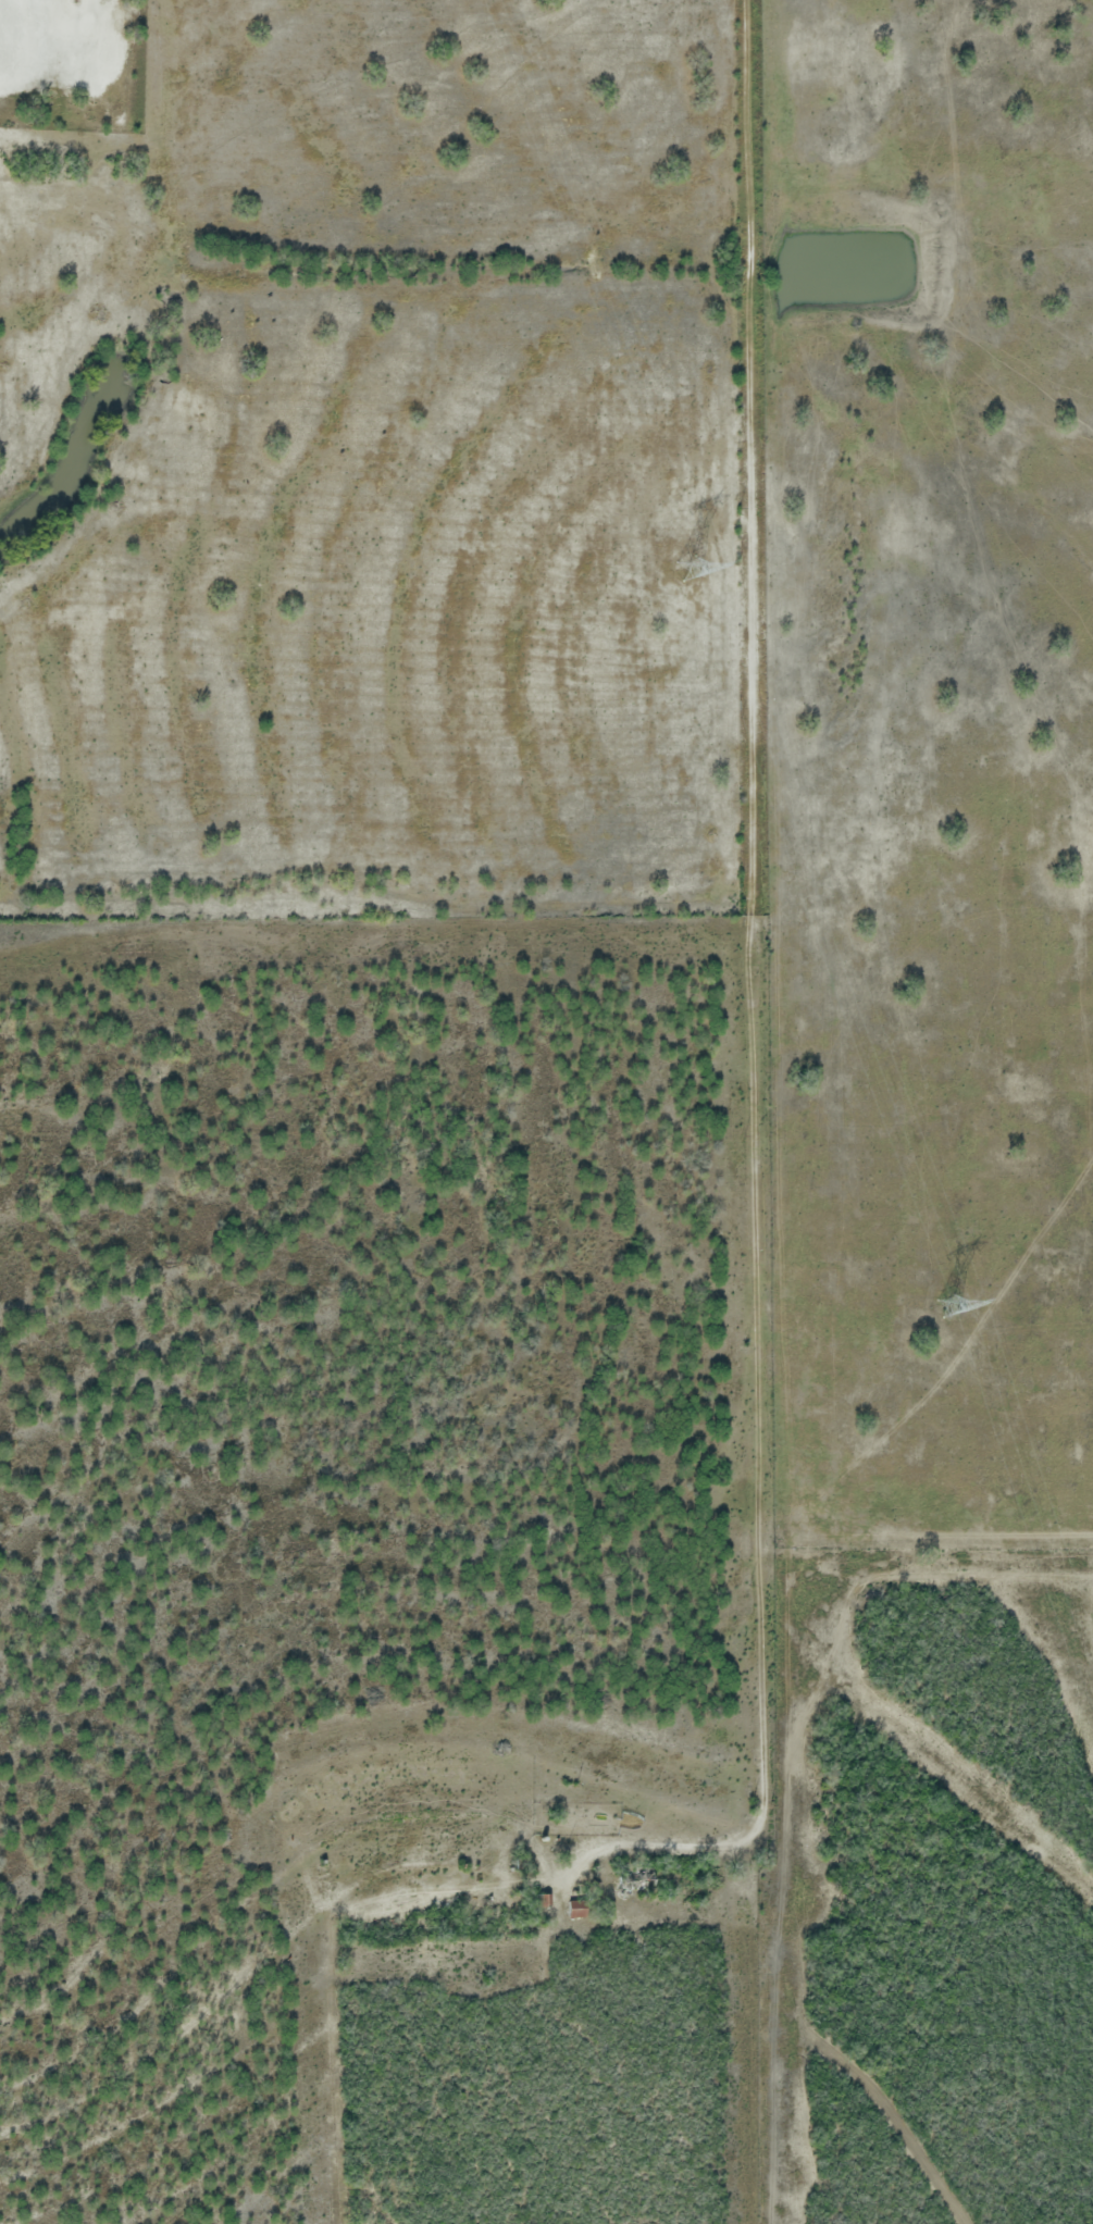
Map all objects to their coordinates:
power tower: (690, 567)
power tower: (948, 1305)
building: (636, 1884)
building: (576, 1909)

